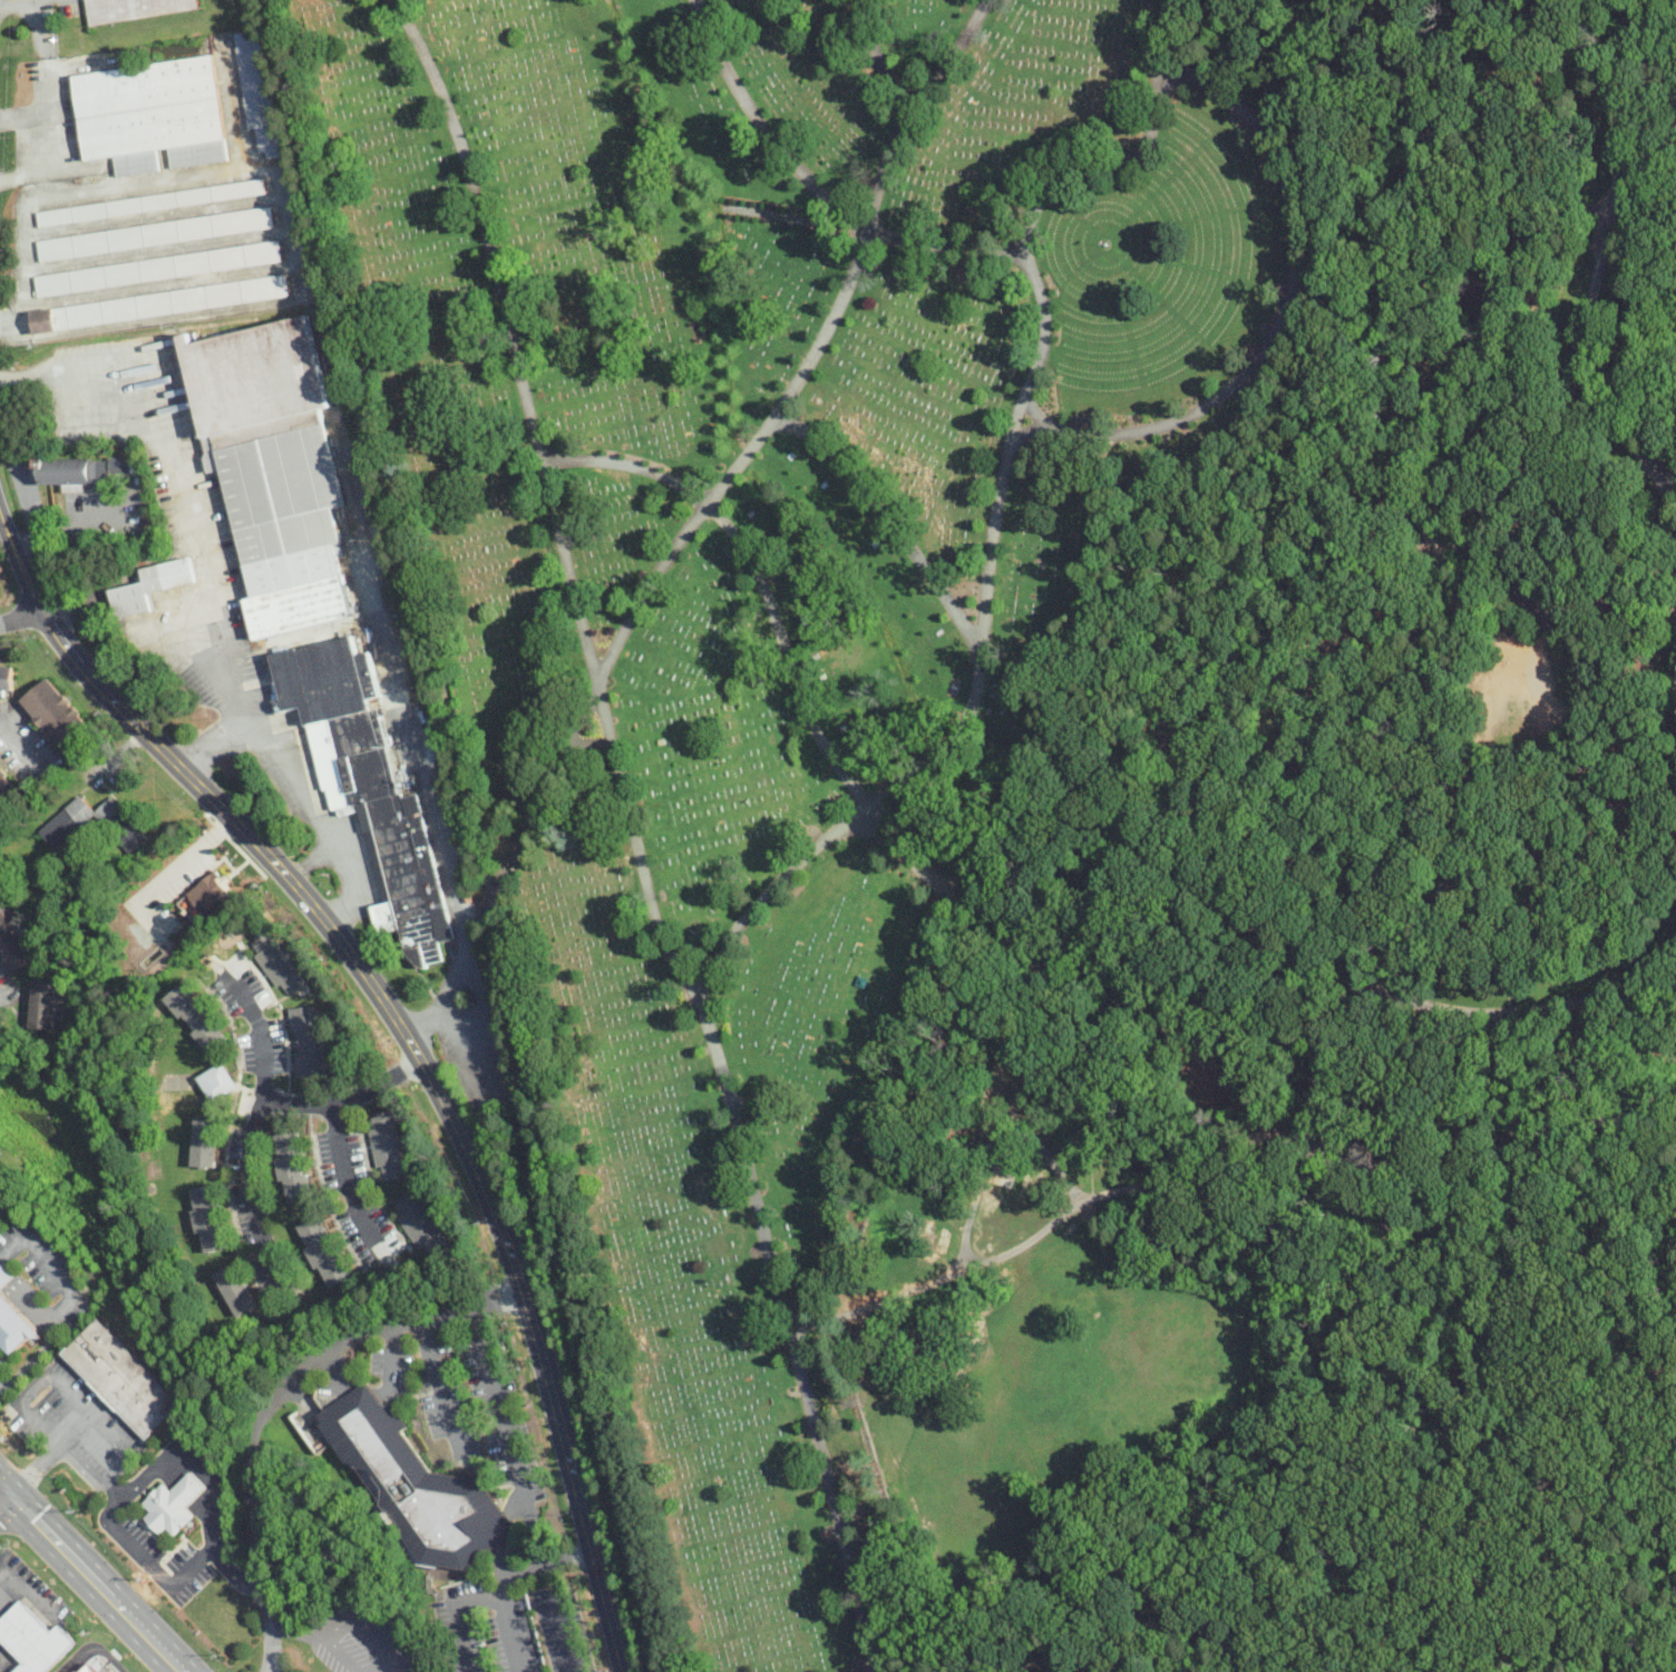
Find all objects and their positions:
road: (10, 2)
building: (135, 9)
road: (876, 58)
road: (1169, 81)
building: (257, 89)
building: (152, 114)
road: (32, 143)
road: (815, 189)
building: (149, 202)
building: (305, 232)
building: (154, 233)
building: (159, 268)
road: (1595, 279)
building: (159, 303)
road: (1279, 317)
road: (12, 379)
road: (1033, 412)
road: (756, 438)
building: (123, 464)
building: (273, 468)
building: (72, 470)
road: (29, 513)
road: (888, 522)
road: (77, 527)
road: (23, 545)
building: (149, 585)
park: (4, 587)
road: (207, 603)
road: (19, 616)
park: (760, 624)
road: (1599, 628)
road: (782, 645)
road: (1204, 662)
building: (7, 677)
road: (1675, 708)
building: (57, 716)
road: (223, 736)
road: (19, 742)
road: (188, 760)
building: (368, 786)
building: (7, 787)
building: (67, 823)
road: (480, 834)
road: (165, 877)
road: (449, 882)
building: (209, 888)
road: (337, 918)
road: (734, 929)
building: (11, 942)
park: (1336, 947)
road: (460, 960)
building: (277, 961)
building: (42, 1003)
road: (1433, 1007)
road: (1139, 1010)
building: (196, 1017)
building: (308, 1041)
road: (407, 1041)
building: (216, 1081)
road: (342, 1097)
road: (1295, 1134)
road: (250, 1137)
building: (205, 1141)
road: (1495, 1143)
building: (387, 1145)
building: (1004, 1164)
building: (292, 1166)
road: (344, 1169)
building: (208, 1217)
building: (419, 1222)
building: (320, 1252)
road: (48, 1266)
building: (4, 1276)
building: (235, 1290)
road: (1550, 1306)
building: (13, 1325)
road: (48, 1326)
road: (788, 1334)
road: (390, 1357)
building: (123, 1378)
road: (437, 1384)
road: (271, 1399)
road: (1290, 1406)
road: (1638, 1423)
road: (110, 1435)
road: (511, 1457)
road: (78, 1461)
road: (183, 1483)
building: (416, 1483)
road: (4, 1498)
building: (173, 1504)
road: (517, 1567)
road: (91, 1577)
road: (25, 1590)
road: (455, 1615)
road: (352, 1620)
parking lot: (508, 1623)
road: (296, 1630)
road: (510, 1631)
road: (563, 1631)
road: (1596, 1635)
building: (33, 1639)
road: (90, 1646)
parking lot: (359, 1650)
road: (4, 1662)
building: (90, 1668)
road: (1061, 1671)

